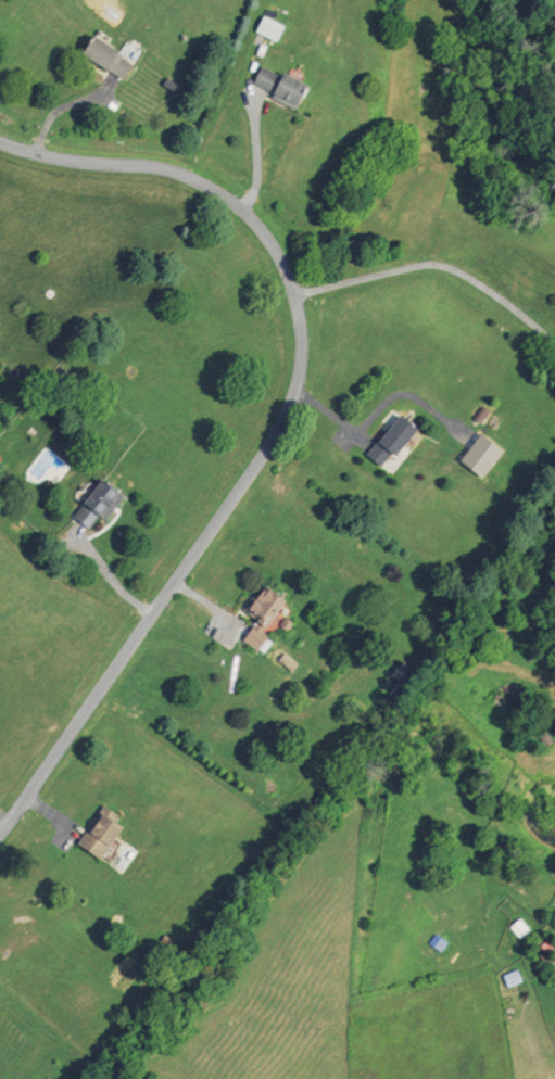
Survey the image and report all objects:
building: (269, 28)
building: (108, 56)
building: (278, 86)
road: (61, 107)
road: (256, 153)
road: (432, 264)
road: (407, 395)
building: (480, 415)
road: (330, 417)
road: (279, 427)
building: (393, 444)
building: (479, 455)
building: (99, 504)
road: (108, 574)
road: (206, 606)
building: (265, 608)
building: (255, 638)
building: (288, 663)
road: (50, 814)
road: (3, 820)
building: (100, 835)
building: (510, 977)

